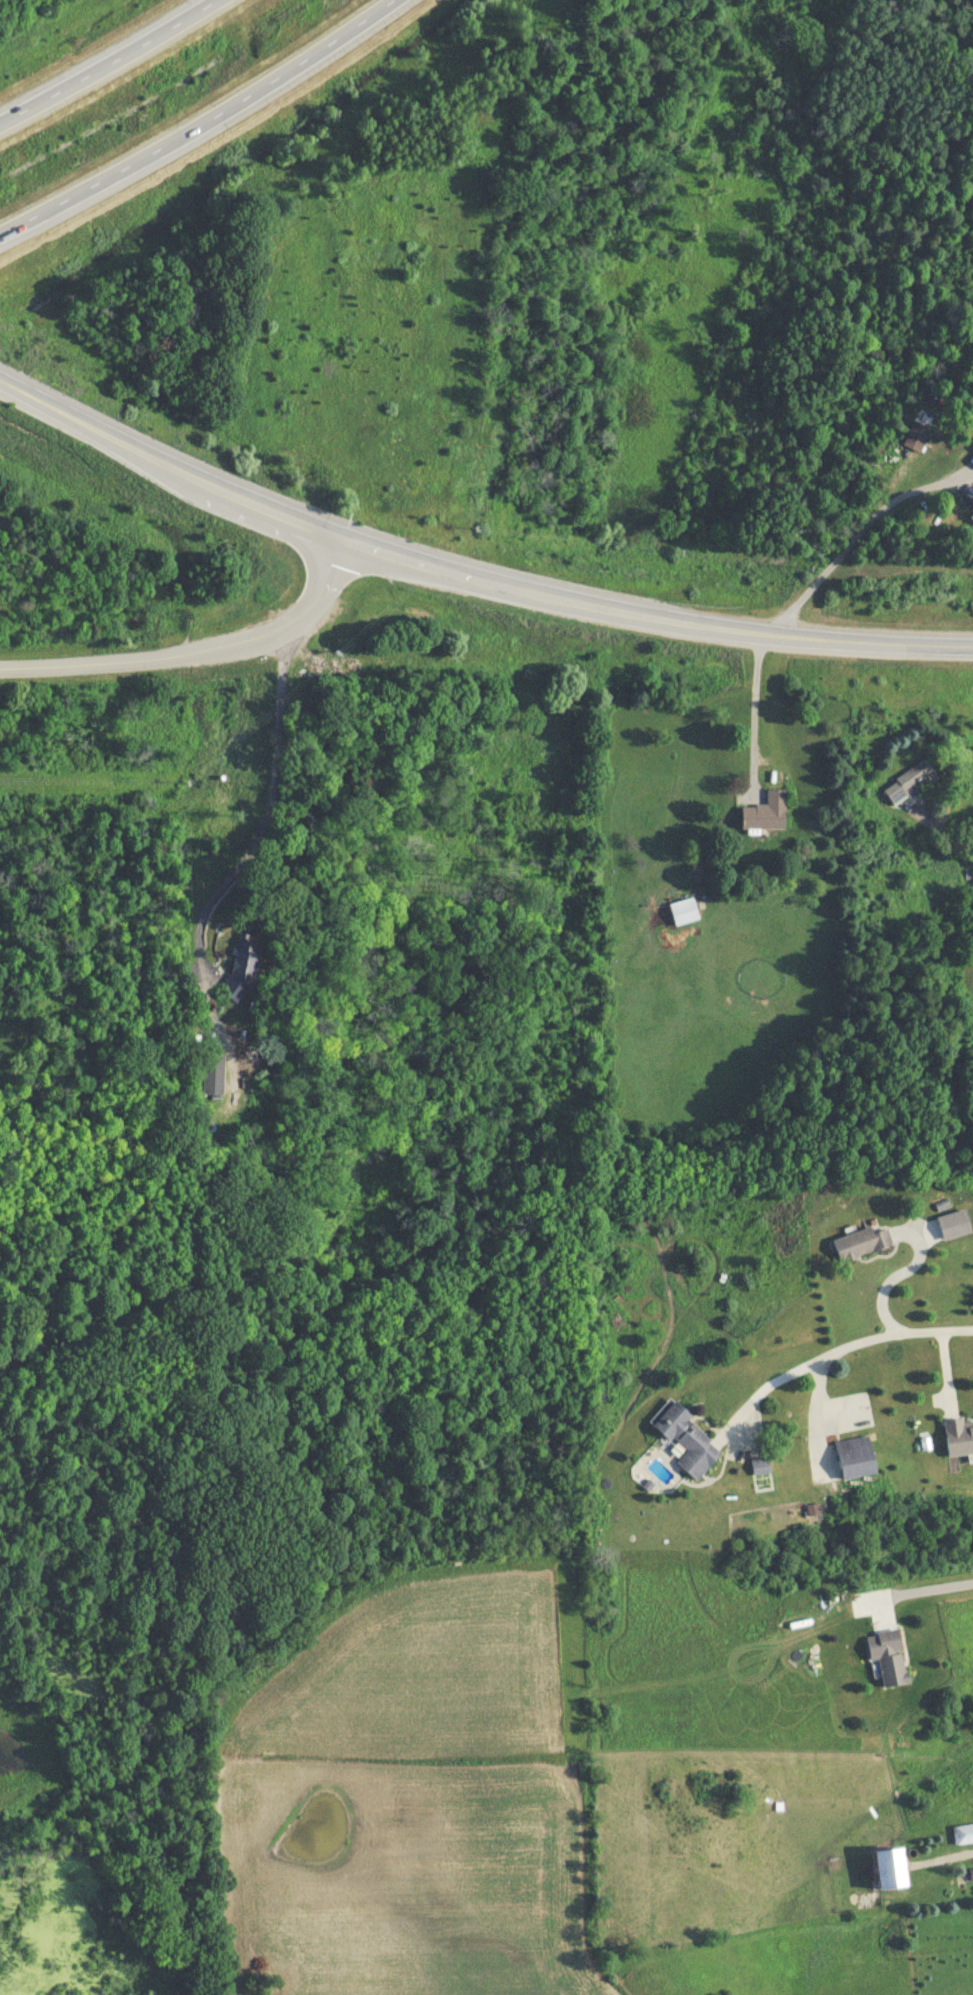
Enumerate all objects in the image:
road: (106, 63)
road: (204, 123)
building: (916, 436)
road: (853, 537)
road: (454, 570)
road: (279, 630)
road: (956, 644)
road: (83, 664)
road: (754, 706)
building: (910, 781)
road: (270, 802)
building: (767, 811)
road: (943, 830)
building: (684, 910)
building: (241, 967)
building: (972, 1015)
building: (213, 1074)
building: (861, 1243)
road: (883, 1283)
road: (841, 1347)
building: (959, 1436)
building: (688, 1441)
building: (857, 1456)
road: (922, 1591)
building: (889, 1655)
building: (962, 1833)
building: (891, 1868)

